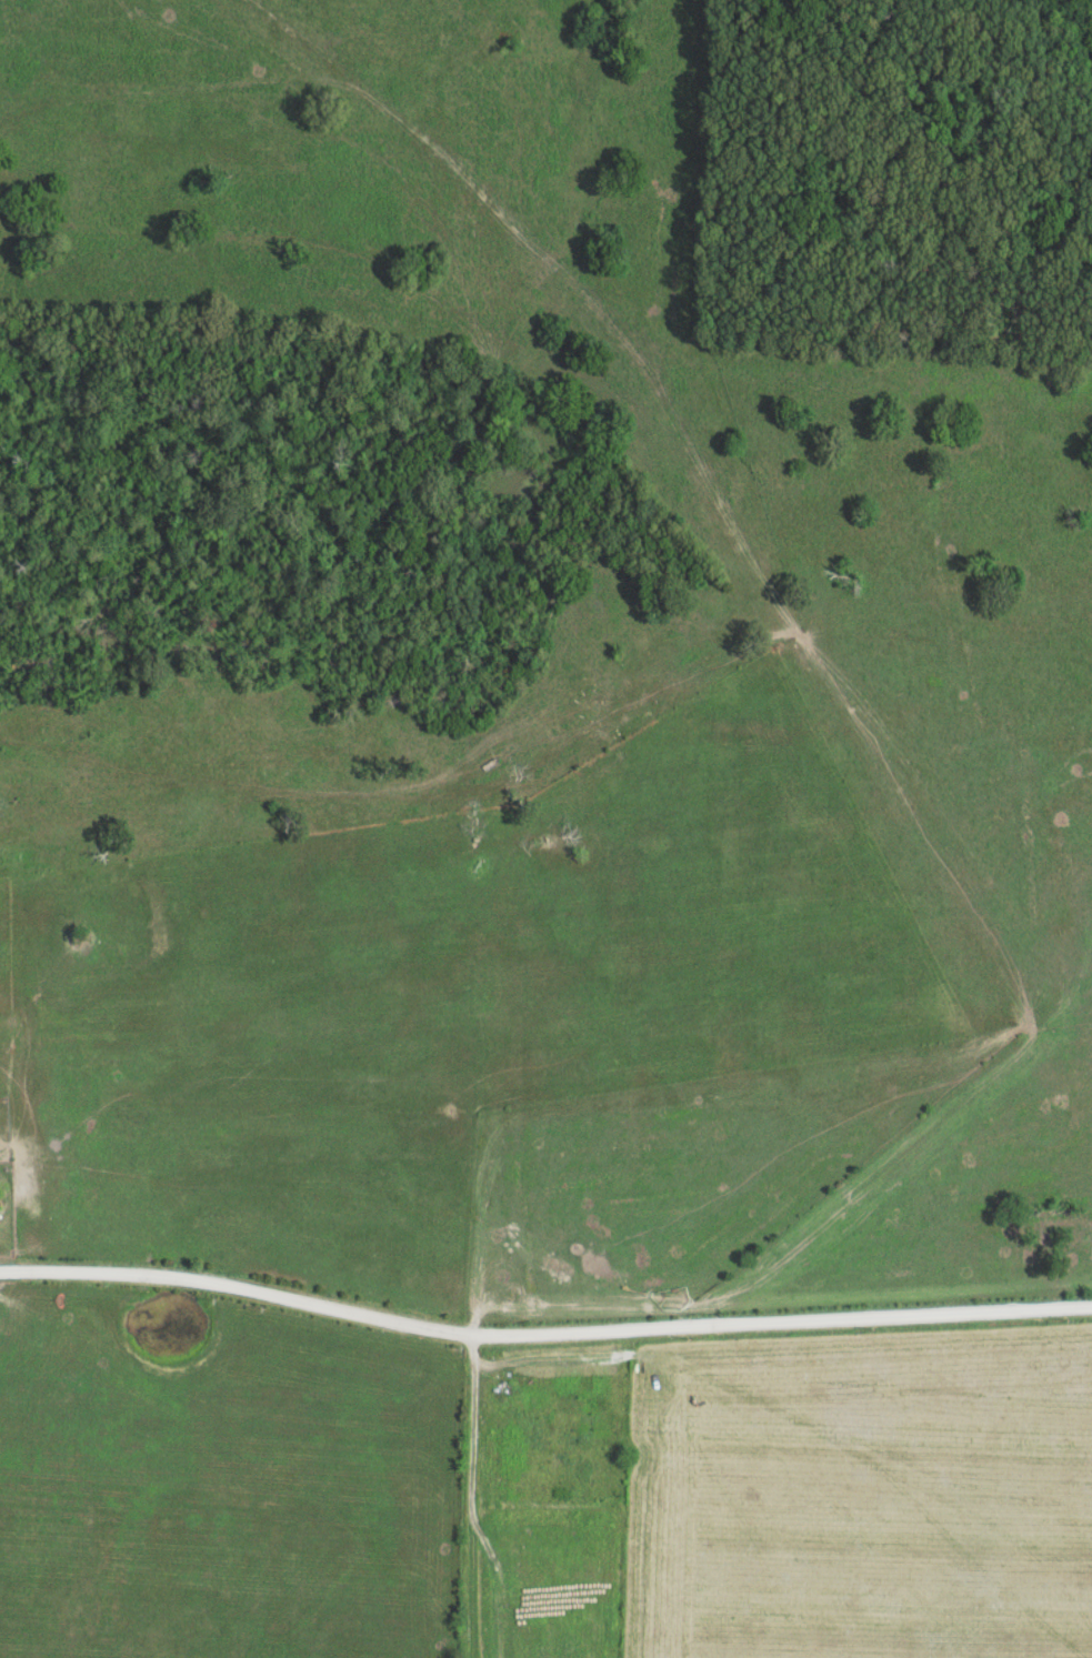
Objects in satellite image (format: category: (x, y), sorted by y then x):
road: (543, 1329)

